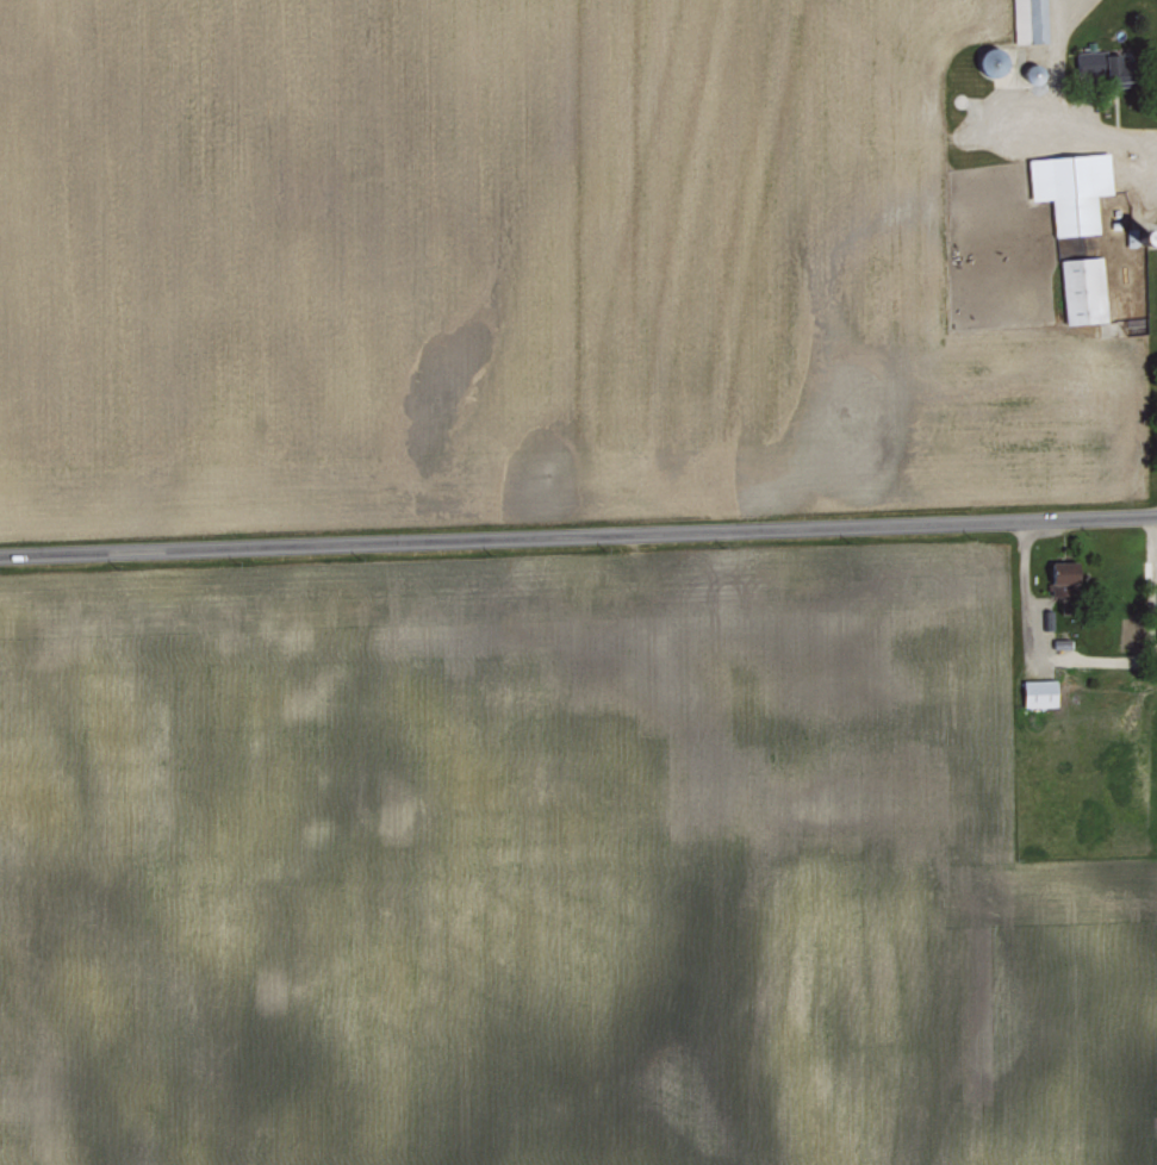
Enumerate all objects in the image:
building: (1028, 19)
building: (1101, 63)
road: (1127, 137)
building: (1069, 186)
building: (1082, 287)
road: (578, 538)
building: (1062, 574)
road: (1069, 656)
building: (1038, 691)

